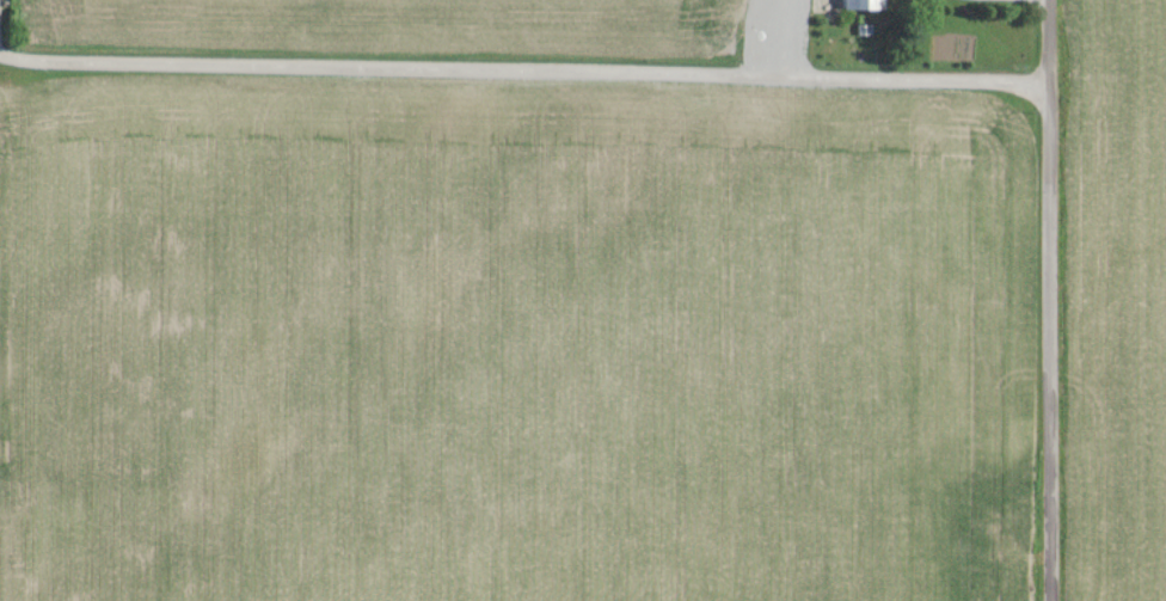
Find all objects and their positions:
building: (863, 4)
road: (779, 43)
road: (522, 74)
road: (1049, 300)

